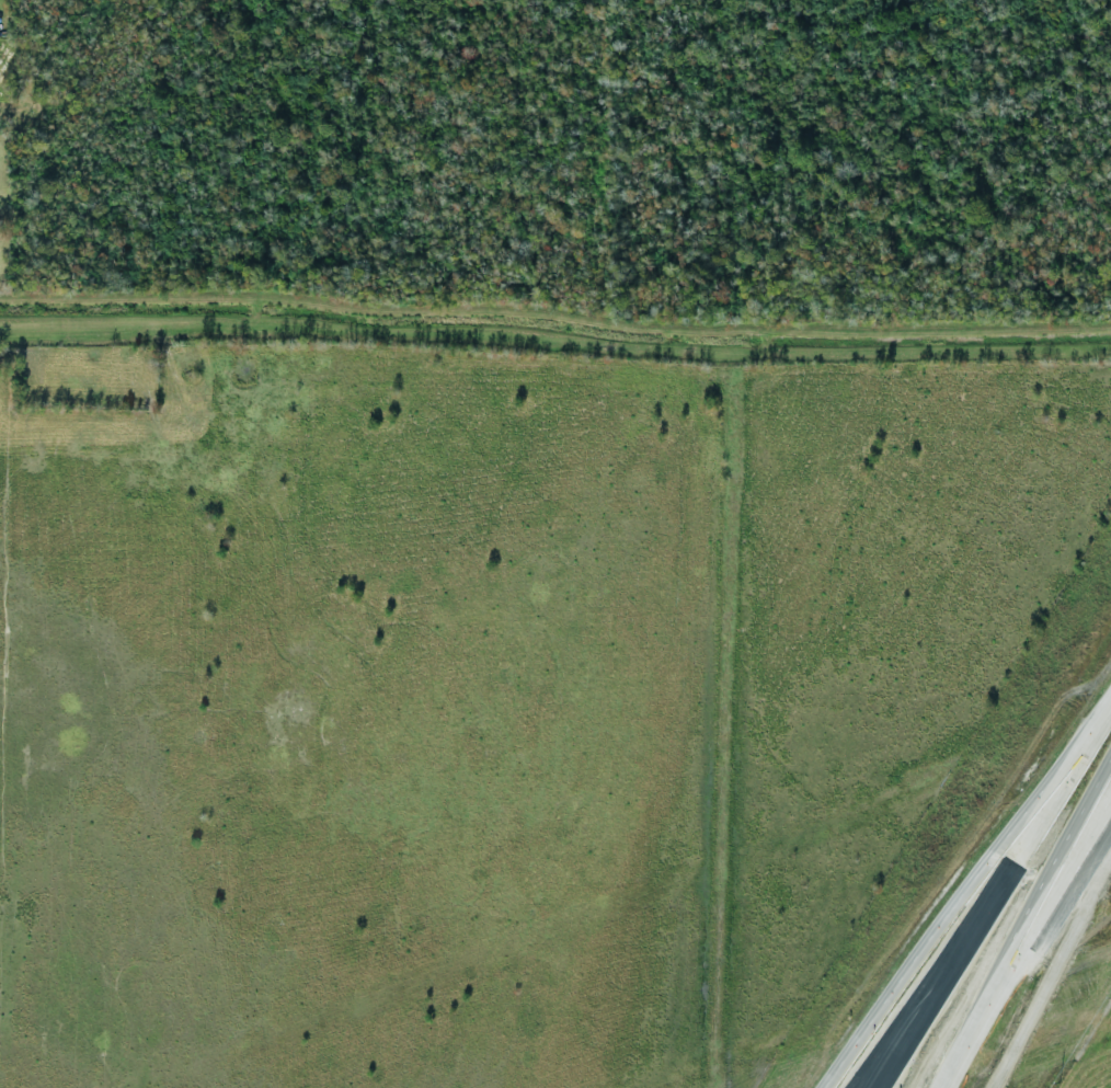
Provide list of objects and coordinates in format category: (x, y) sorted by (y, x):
road: (1062, 783)
road: (1044, 911)
road: (936, 976)
road: (943, 976)
road: (959, 1051)
road: (955, 1052)

